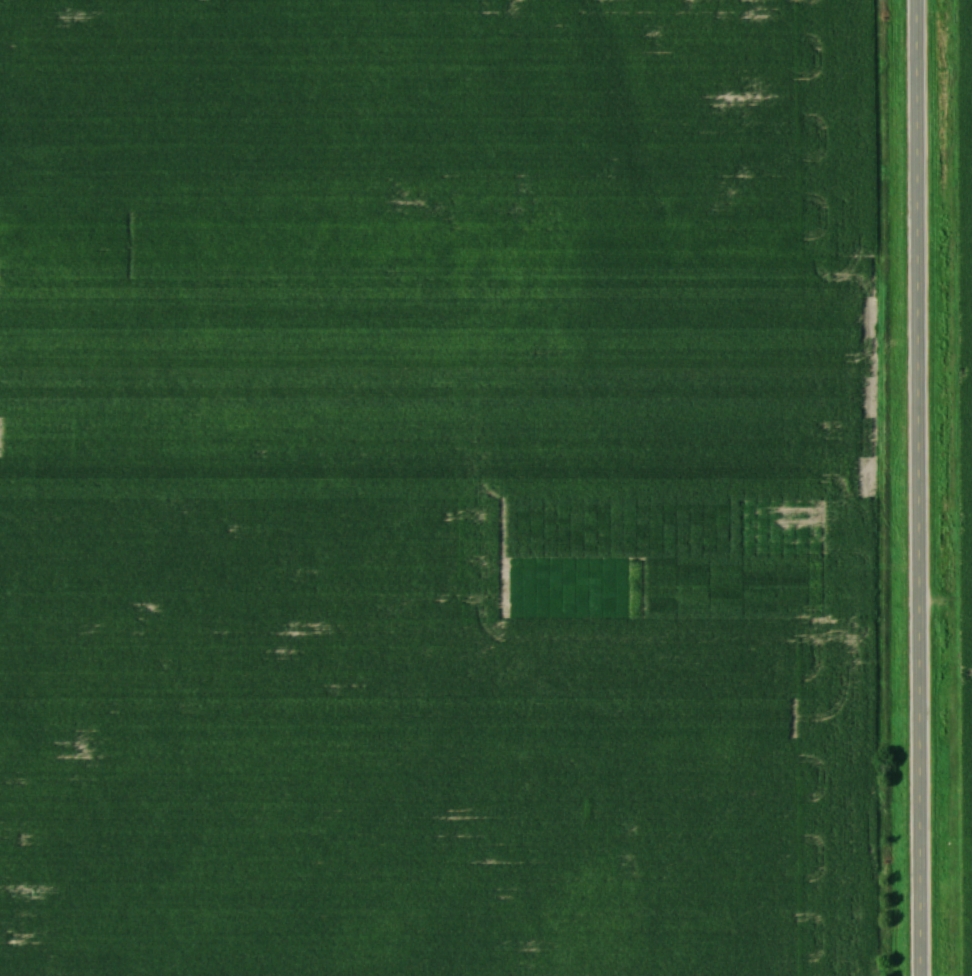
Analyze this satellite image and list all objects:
road: (923, 488)

